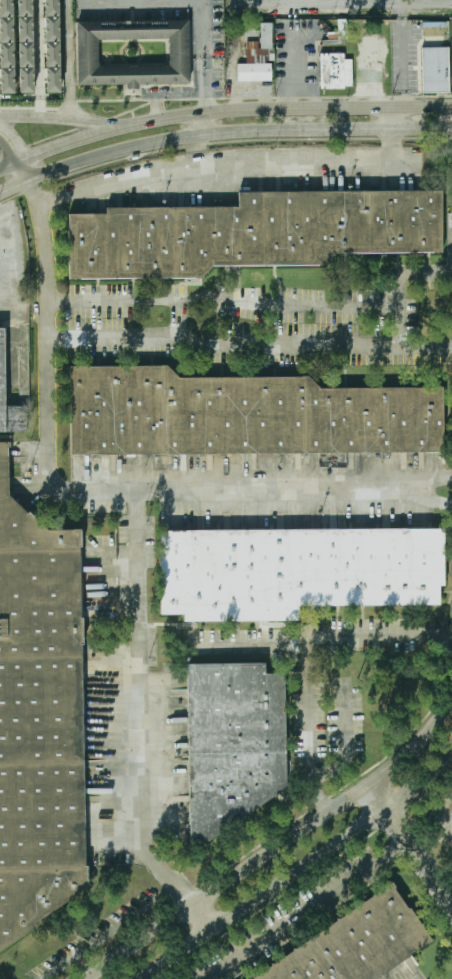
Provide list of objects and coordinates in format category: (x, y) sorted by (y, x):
road: (141, 2)
road: (341, 5)
building: (5, 8)
building: (50, 8)
building: (24, 9)
building: (51, 29)
building: (6, 30)
building: (23, 30)
building: (264, 38)
building: (85, 52)
building: (51, 54)
building: (6, 56)
building: (24, 56)
road: (206, 56)
road: (401, 56)
road: (40, 58)
road: (73, 59)
building: (435, 69)
building: (334, 70)
building: (253, 72)
building: (51, 80)
building: (6, 81)
building: (24, 82)
road: (232, 109)
road: (38, 116)
road: (394, 119)
road: (97, 122)
road: (202, 124)
road: (221, 134)
road: (13, 139)
road: (7, 152)
road: (198, 153)
road: (10, 163)
road: (313, 167)
road: (25, 171)
road: (115, 180)
building: (254, 231)
road: (46, 259)
road: (413, 270)
road: (223, 296)
road: (426, 296)
road: (183, 320)
road: (398, 321)
road: (125, 337)
road: (325, 346)
building: (2, 366)
building: (245, 414)
road: (410, 489)
road: (157, 491)
building: (296, 571)
road: (321, 637)
road: (145, 707)
building: (39, 719)
road: (310, 730)
road: (347, 740)
building: (235, 742)
road: (441, 813)
road: (410, 842)
road: (278, 850)
road: (302, 873)
road: (301, 907)
road: (209, 919)
road: (115, 934)
building: (355, 943)

